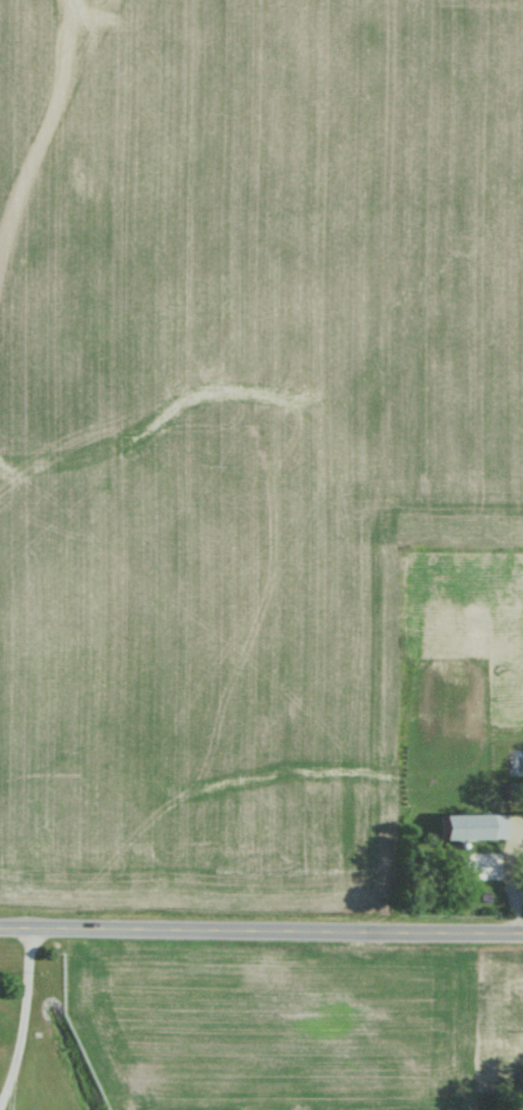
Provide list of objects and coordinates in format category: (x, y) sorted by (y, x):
building: (468, 825)
road: (261, 934)
road: (29, 1024)

